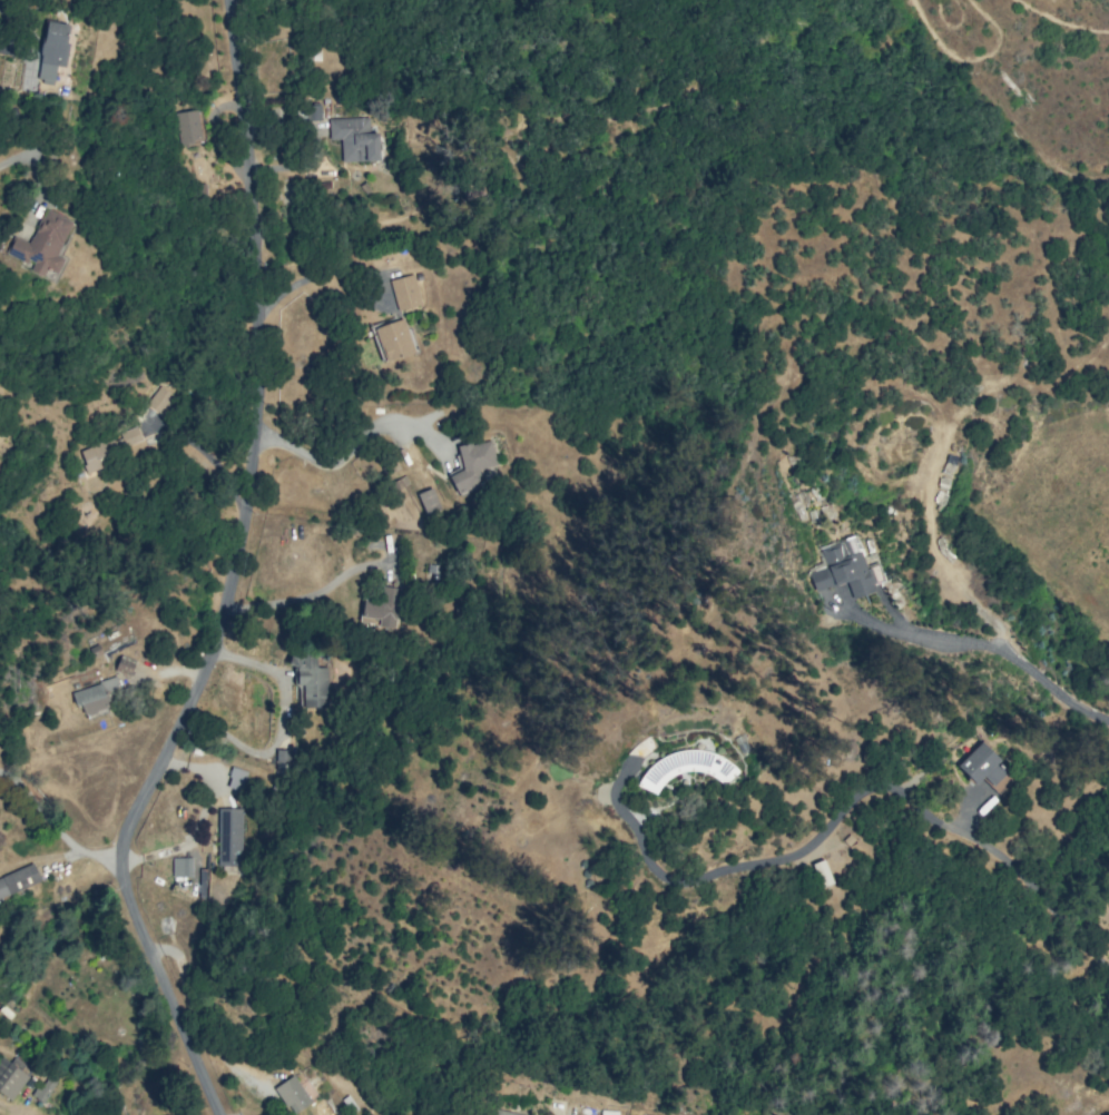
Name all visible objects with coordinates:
building: (52, 50)
building: (313, 112)
building: (189, 126)
building: (354, 139)
building: (41, 246)
building: (404, 292)
building: (393, 339)
building: (160, 401)
building: (106, 450)
road: (341, 458)
building: (472, 464)
crop: (1062, 497)
building: (428, 501)
building: (843, 568)
road: (235, 575)
road: (304, 603)
building: (382, 608)
road: (993, 645)
building: (124, 665)
building: (310, 680)
building: (94, 697)
building: (282, 759)
building: (984, 768)
building: (229, 837)
building: (181, 867)
road: (1009, 867)
road: (725, 868)
building: (821, 872)
building: (18, 879)
building: (10, 1078)
building: (292, 1094)
building: (609, 1112)
building: (512, 1114)

